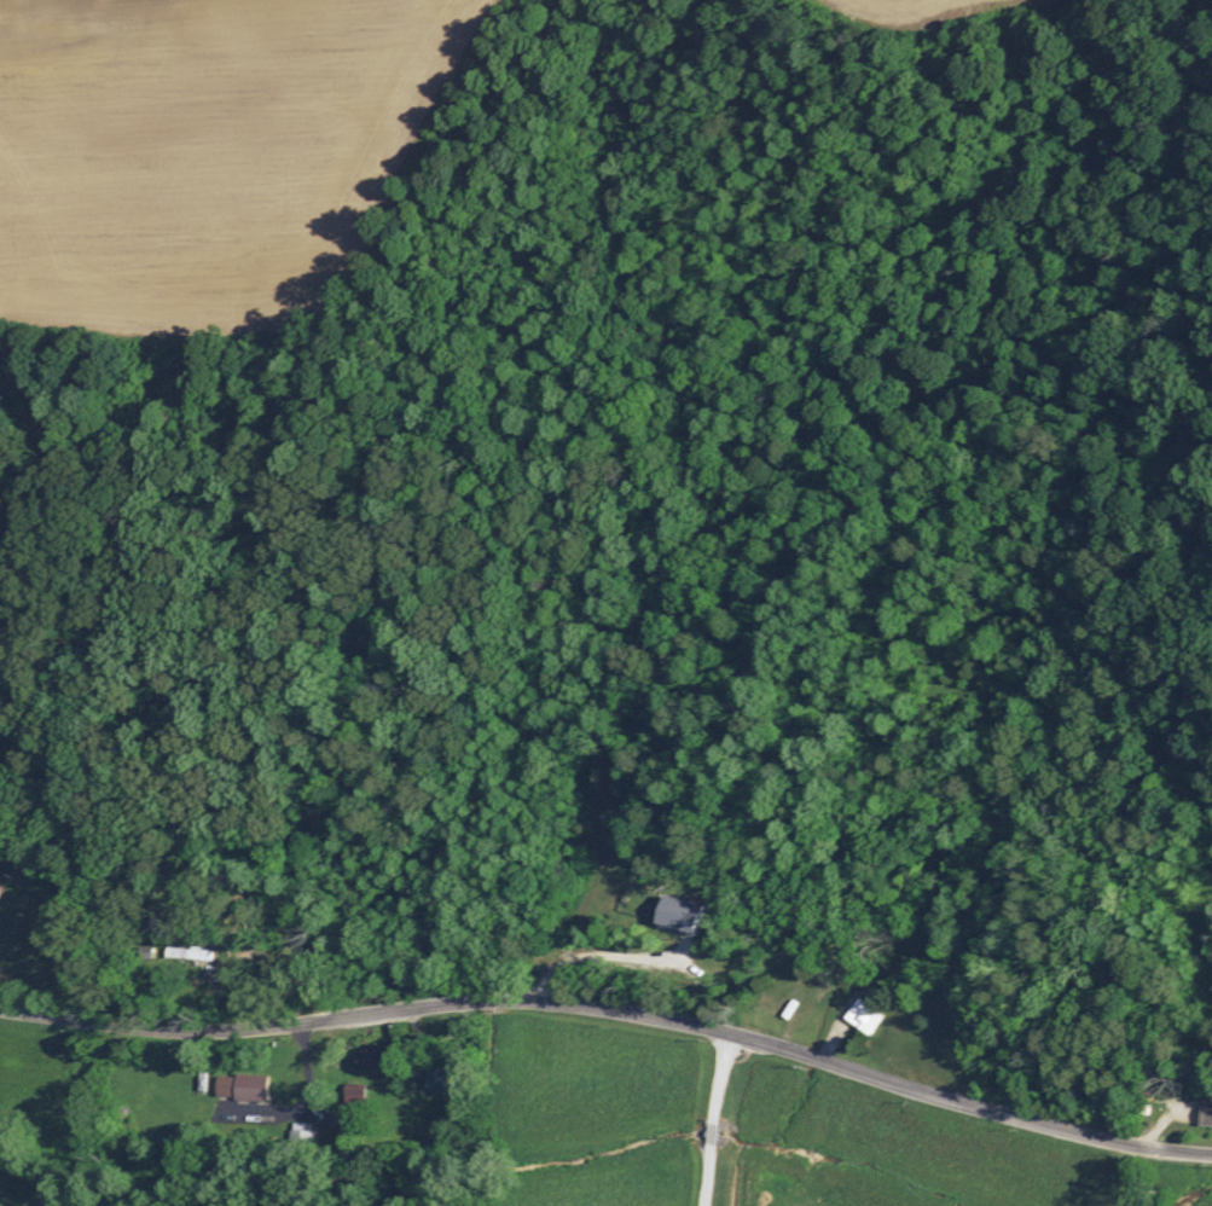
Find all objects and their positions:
building: (187, 952)
road: (614, 1008)
building: (863, 1016)
building: (434, 1077)
building: (249, 1086)
building: (1202, 1112)
road: (717, 1120)
building: (305, 1131)

